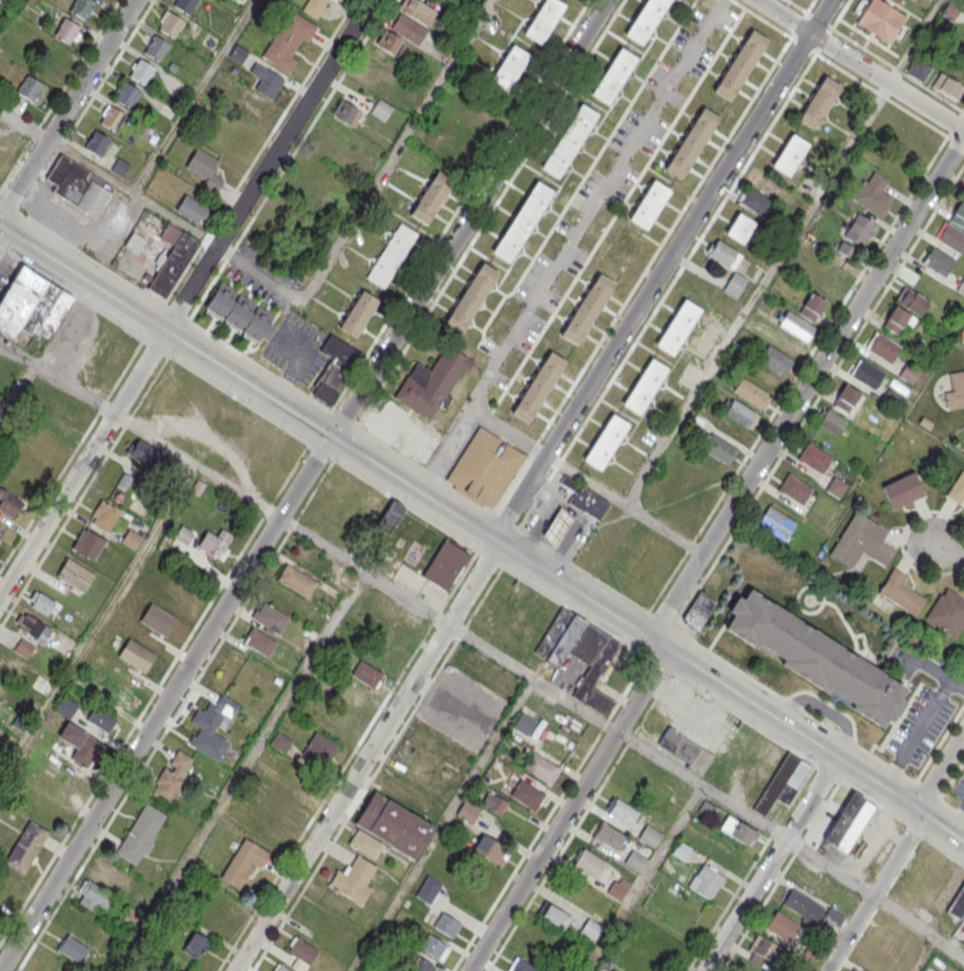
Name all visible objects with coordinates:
building: (339, 0)
building: (184, 5)
building: (314, 7)
building: (81, 8)
building: (417, 11)
building: (951, 12)
building: (542, 19)
building: (645, 19)
building: (881, 20)
building: (171, 24)
building: (408, 29)
building: (66, 30)
building: (288, 40)
building: (387, 41)
building: (156, 48)
building: (740, 64)
road: (860, 65)
building: (508, 68)
building: (918, 69)
building: (141, 71)
building: (613, 76)
building: (223, 80)
building: (266, 81)
building: (947, 87)
building: (29, 89)
road: (58, 94)
building: (127, 95)
building: (819, 102)
building: (257, 104)
road: (66, 108)
building: (380, 109)
building: (346, 112)
building: (112, 118)
building: (478, 122)
road: (24, 123)
road: (167, 139)
building: (569, 140)
building: (97, 143)
building: (691, 143)
road: (395, 151)
building: (789, 154)
building: (459, 159)
road: (267, 165)
building: (204, 168)
building: (893, 169)
building: (78, 185)
parking lot: (601, 194)
building: (873, 194)
building: (430, 197)
building: (758, 202)
building: (649, 204)
building: (192, 208)
building: (958, 214)
road: (468, 218)
building: (522, 220)
building: (739, 227)
building: (859, 230)
parking lot: (108, 231)
building: (950, 236)
road: (567, 243)
building: (845, 249)
road: (1, 252)
building: (724, 254)
building: (391, 255)
building: (938, 261)
building: (172, 264)
road: (662, 271)
road: (258, 275)
building: (734, 285)
building: (961, 286)
road: (753, 292)
building: (470, 297)
building: (912, 300)
building: (30, 303)
building: (812, 306)
building: (240, 312)
building: (358, 313)
building: (897, 319)
building: (796, 325)
building: (677, 326)
building: (784, 341)
building: (884, 347)
building: (562, 348)
building: (118, 352)
road: (625, 356)
building: (775, 360)
building: (335, 368)
building: (867, 374)
building: (431, 381)
building: (644, 385)
building: (756, 387)
road: (806, 387)
building: (955, 390)
building: (846, 398)
building: (741, 413)
road: (128, 421)
building: (831, 421)
building: (54, 426)
building: (394, 426)
road: (509, 430)
traffic signals: (330, 437)
building: (605, 441)
building: (717, 448)
building: (148, 456)
building: (815, 457)
road: (82, 464)
building: (484, 466)
building: (124, 481)
building: (836, 486)
building: (957, 488)
building: (795, 489)
building: (902, 489)
building: (584, 499)
building: (8, 503)
road: (624, 505)
building: (104, 515)
building: (390, 517)
building: (776, 522)
building: (556, 527)
road: (901, 533)
road: (482, 534)
building: (184, 536)
building: (131, 539)
building: (861, 542)
building: (88, 544)
building: (215, 544)
road: (943, 552)
building: (445, 565)
building: (74, 575)
building: (297, 581)
building: (179, 591)
building: (900, 593)
road: (406, 599)
building: (41, 602)
building: (699, 611)
building: (947, 612)
building: (271, 617)
building: (158, 620)
road: (98, 623)
building: (32, 627)
road: (228, 630)
building: (259, 641)
building: (24, 647)
building: (580, 654)
building: (136, 655)
building: (814, 657)
building: (9, 665)
road: (935, 672)
building: (365, 674)
building: (2, 685)
building: (116, 691)
road: (708, 696)
road: (165, 703)
building: (66, 707)
building: (101, 719)
building: (212, 726)
road: (267, 729)
road: (917, 734)
building: (281, 742)
building: (74, 744)
building: (319, 749)
road: (932, 749)
building: (685, 750)
road: (367, 758)
road: (661, 759)
building: (541, 768)
road: (941, 773)
building: (173, 776)
building: (783, 783)
parking lot: (959, 790)
building: (527, 794)
building: (278, 797)
building: (494, 802)
building: (705, 809)
road: (568, 810)
building: (468, 811)
traffic signals: (919, 811)
building: (623, 812)
road: (550, 814)
building: (392, 824)
building: (846, 824)
building: (737, 829)
building: (140, 834)
building: (609, 836)
building: (649, 836)
building: (365, 844)
building: (26, 847)
building: (491, 848)
building: (681, 850)
road: (655, 857)
building: (635, 860)
building: (443, 861)
building: (243, 863)
building: (589, 863)
road: (769, 863)
building: (113, 877)
building: (353, 880)
building: (706, 881)
building: (618, 888)
building: (428, 889)
road: (537, 890)
road: (874, 892)
building: (95, 897)
building: (957, 903)
building: (803, 906)
building: (554, 915)
building: (132, 917)
building: (963, 917)
building: (831, 921)
building: (446, 925)
building: (782, 925)
building: (591, 929)
road: (918, 929)
building: (195, 946)
building: (434, 946)
building: (73, 948)
building: (303, 952)
building: (763, 952)
building: (418, 964)
building: (520, 966)
building: (283, 969)
building: (389, 970)
building: (854, 970)

